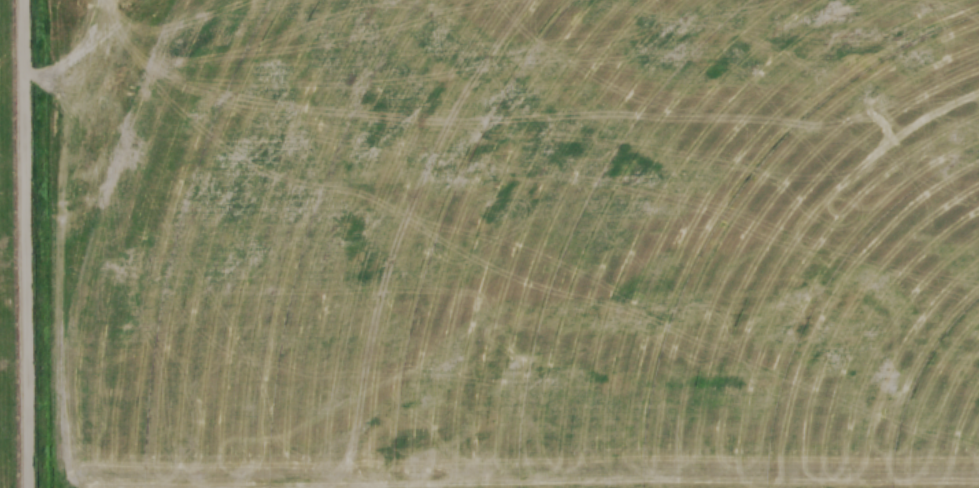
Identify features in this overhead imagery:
road: (100, 82)
road: (23, 244)

